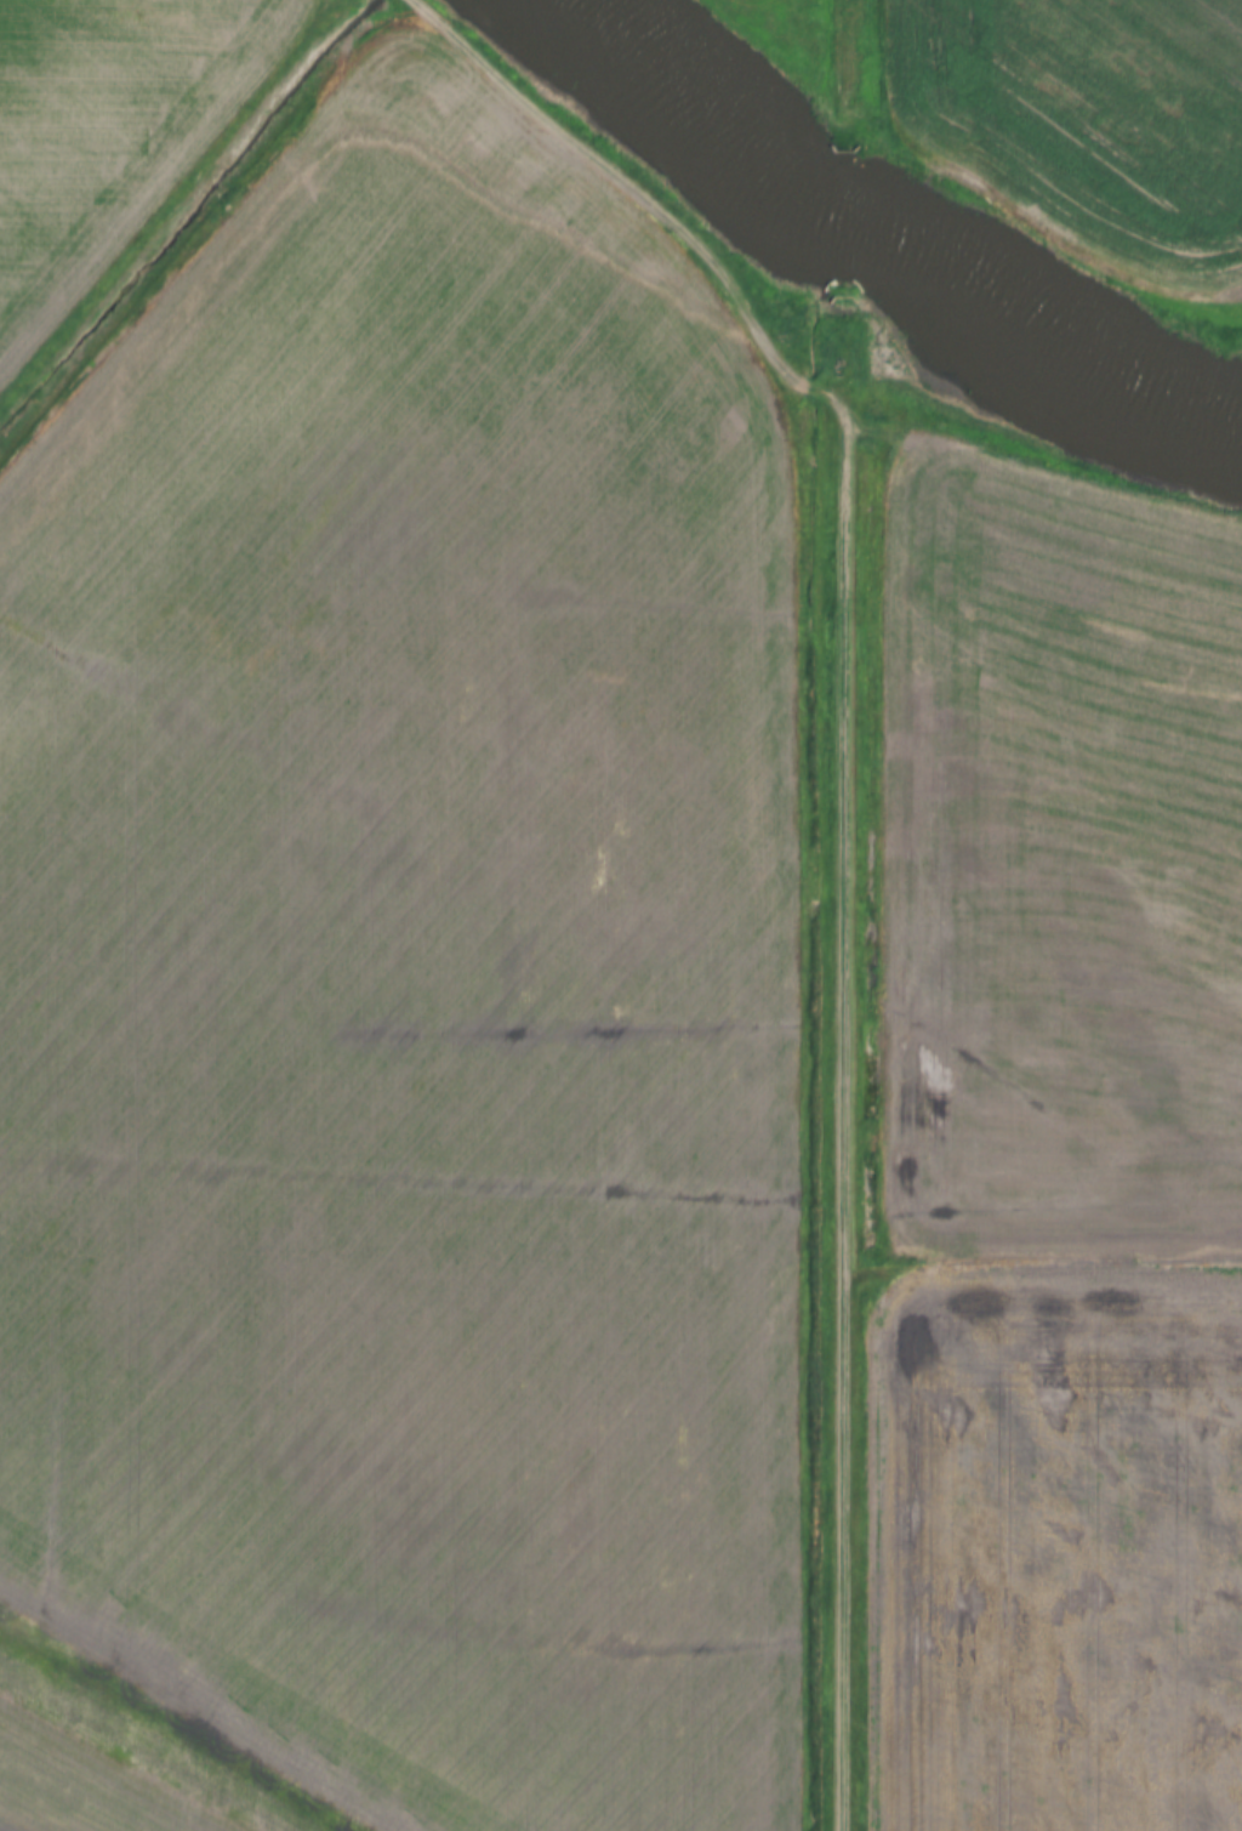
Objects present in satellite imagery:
road: (653, 199)
river: (894, 244)
road: (853, 1130)

